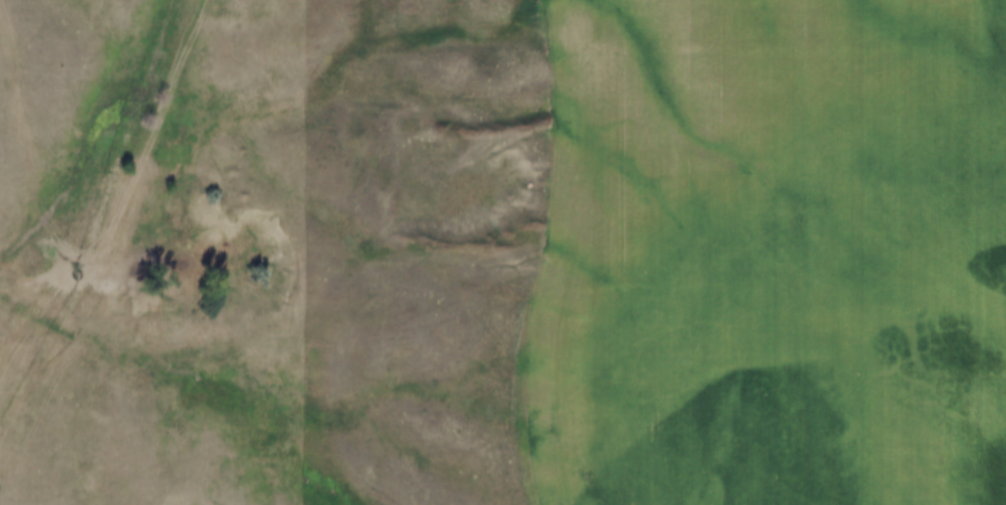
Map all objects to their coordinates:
road: (138, 186)
building: (687, 217)
building: (882, 290)

